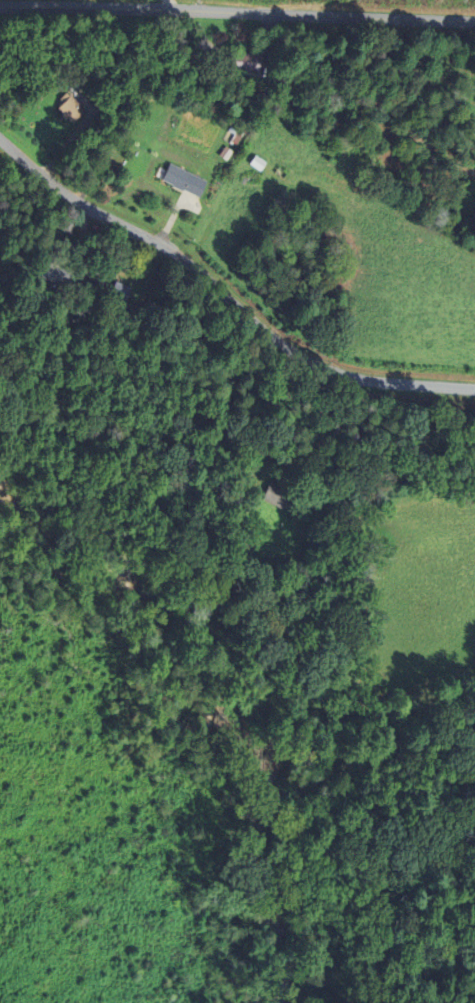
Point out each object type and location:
road: (237, 12)
building: (67, 62)
building: (247, 64)
building: (95, 85)
building: (70, 108)
building: (224, 151)
building: (185, 180)
building: (57, 274)
building: (120, 292)
road: (226, 296)
building: (275, 494)

